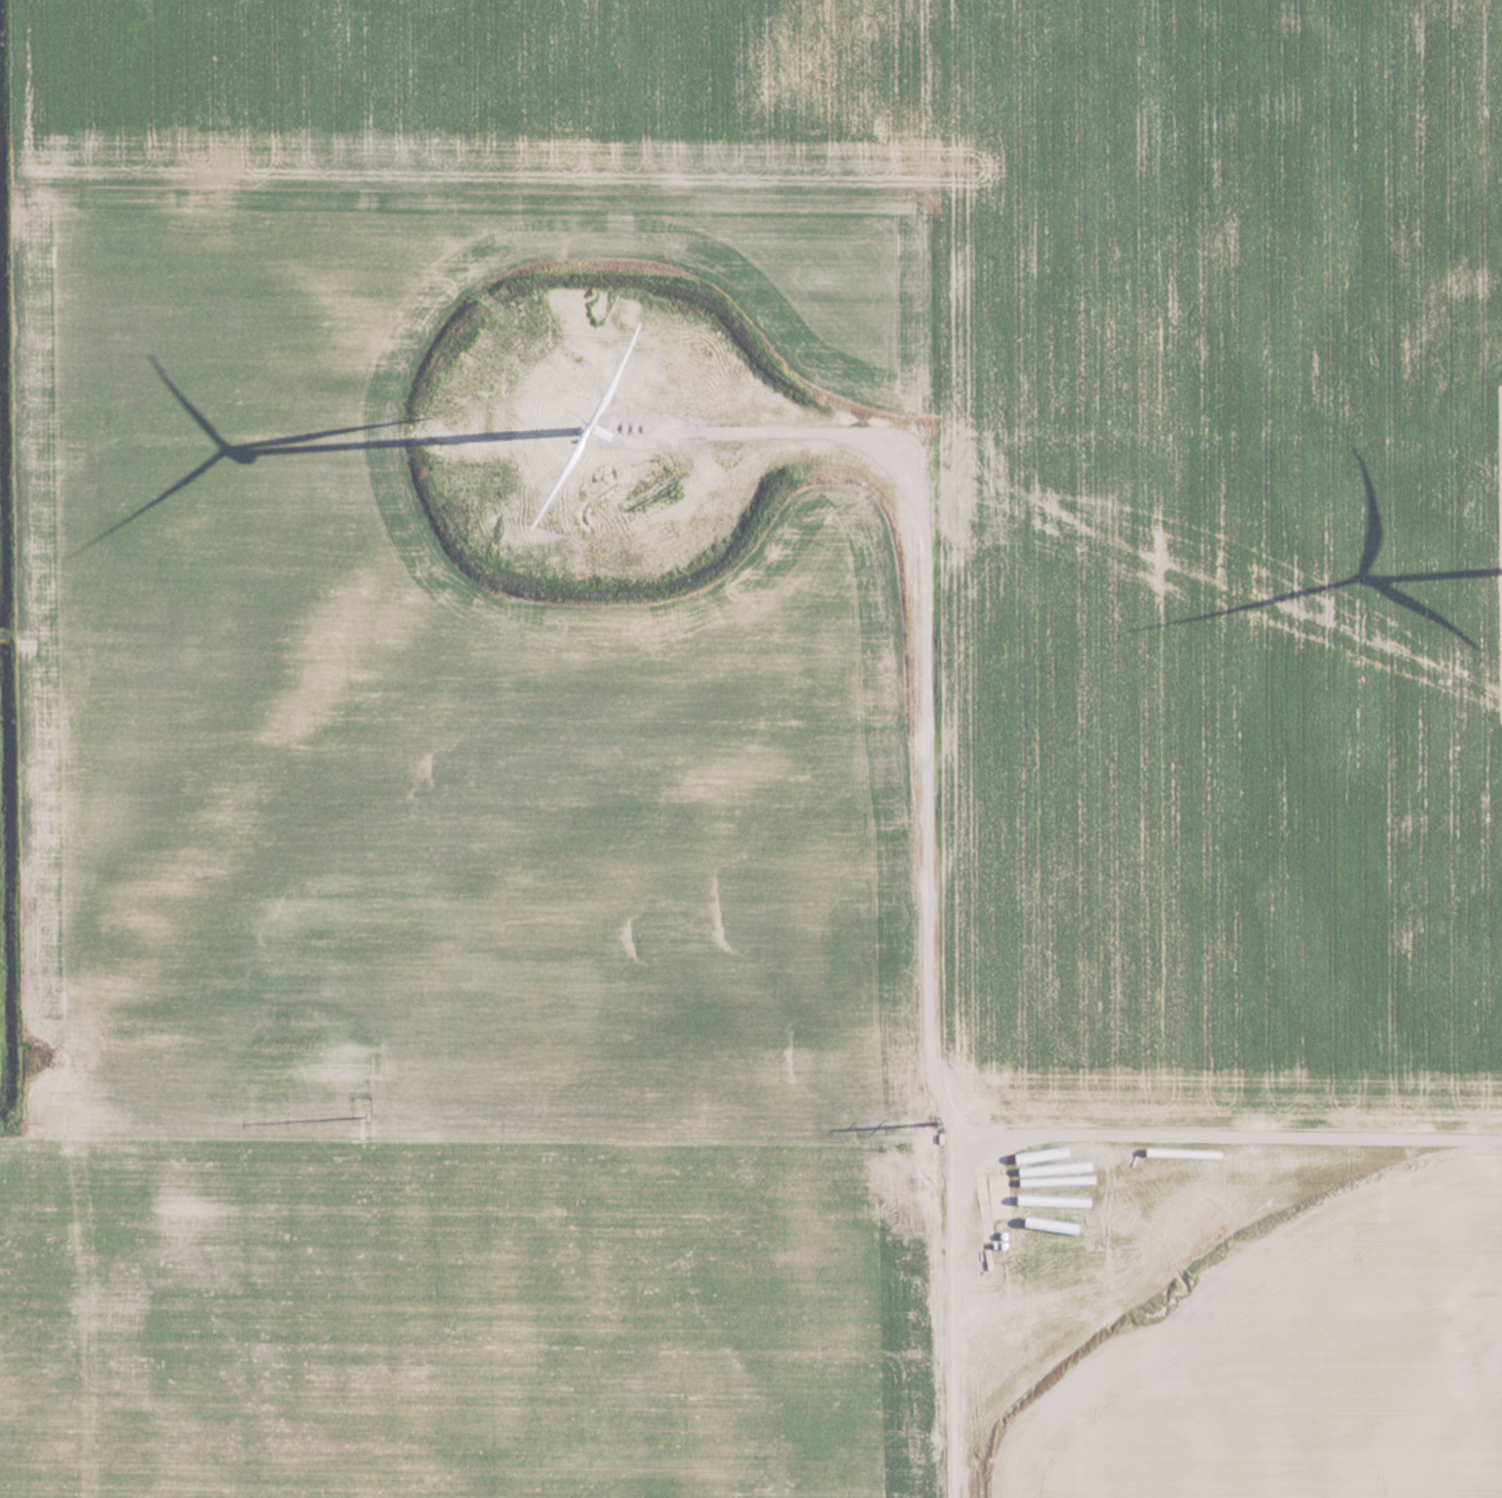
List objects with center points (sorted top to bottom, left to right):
wind turbine: (588, 435)

